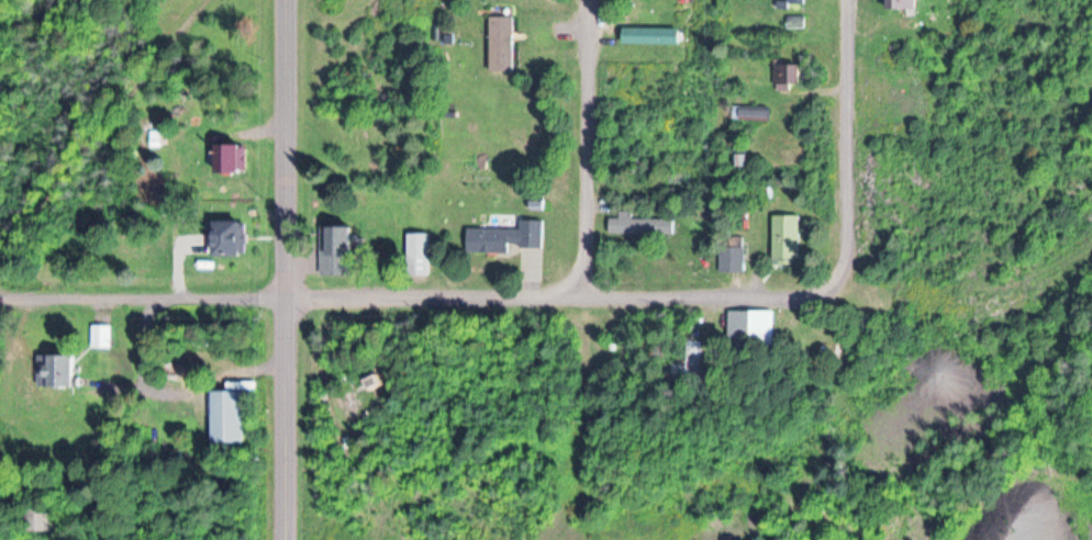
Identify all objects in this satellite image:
building: (890, 0)
building: (787, 2)
building: (794, 21)
building: (644, 27)
building: (494, 34)
building: (782, 65)
building: (788, 74)
road: (851, 148)
road: (592, 149)
building: (224, 154)
building: (160, 204)
building: (635, 218)
building: (222, 226)
building: (501, 228)
building: (782, 230)
building: (328, 243)
building: (411, 246)
building: (725, 251)
road: (291, 269)
road: (146, 299)
road: (565, 299)
building: (753, 323)
building: (49, 363)
building: (227, 415)
building: (38, 510)

